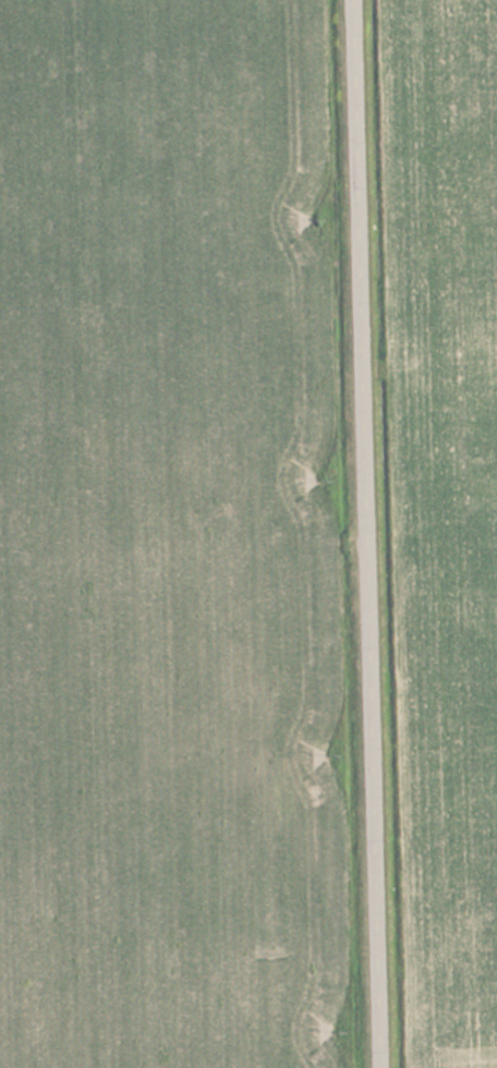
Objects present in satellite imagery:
road: (364, 533)

